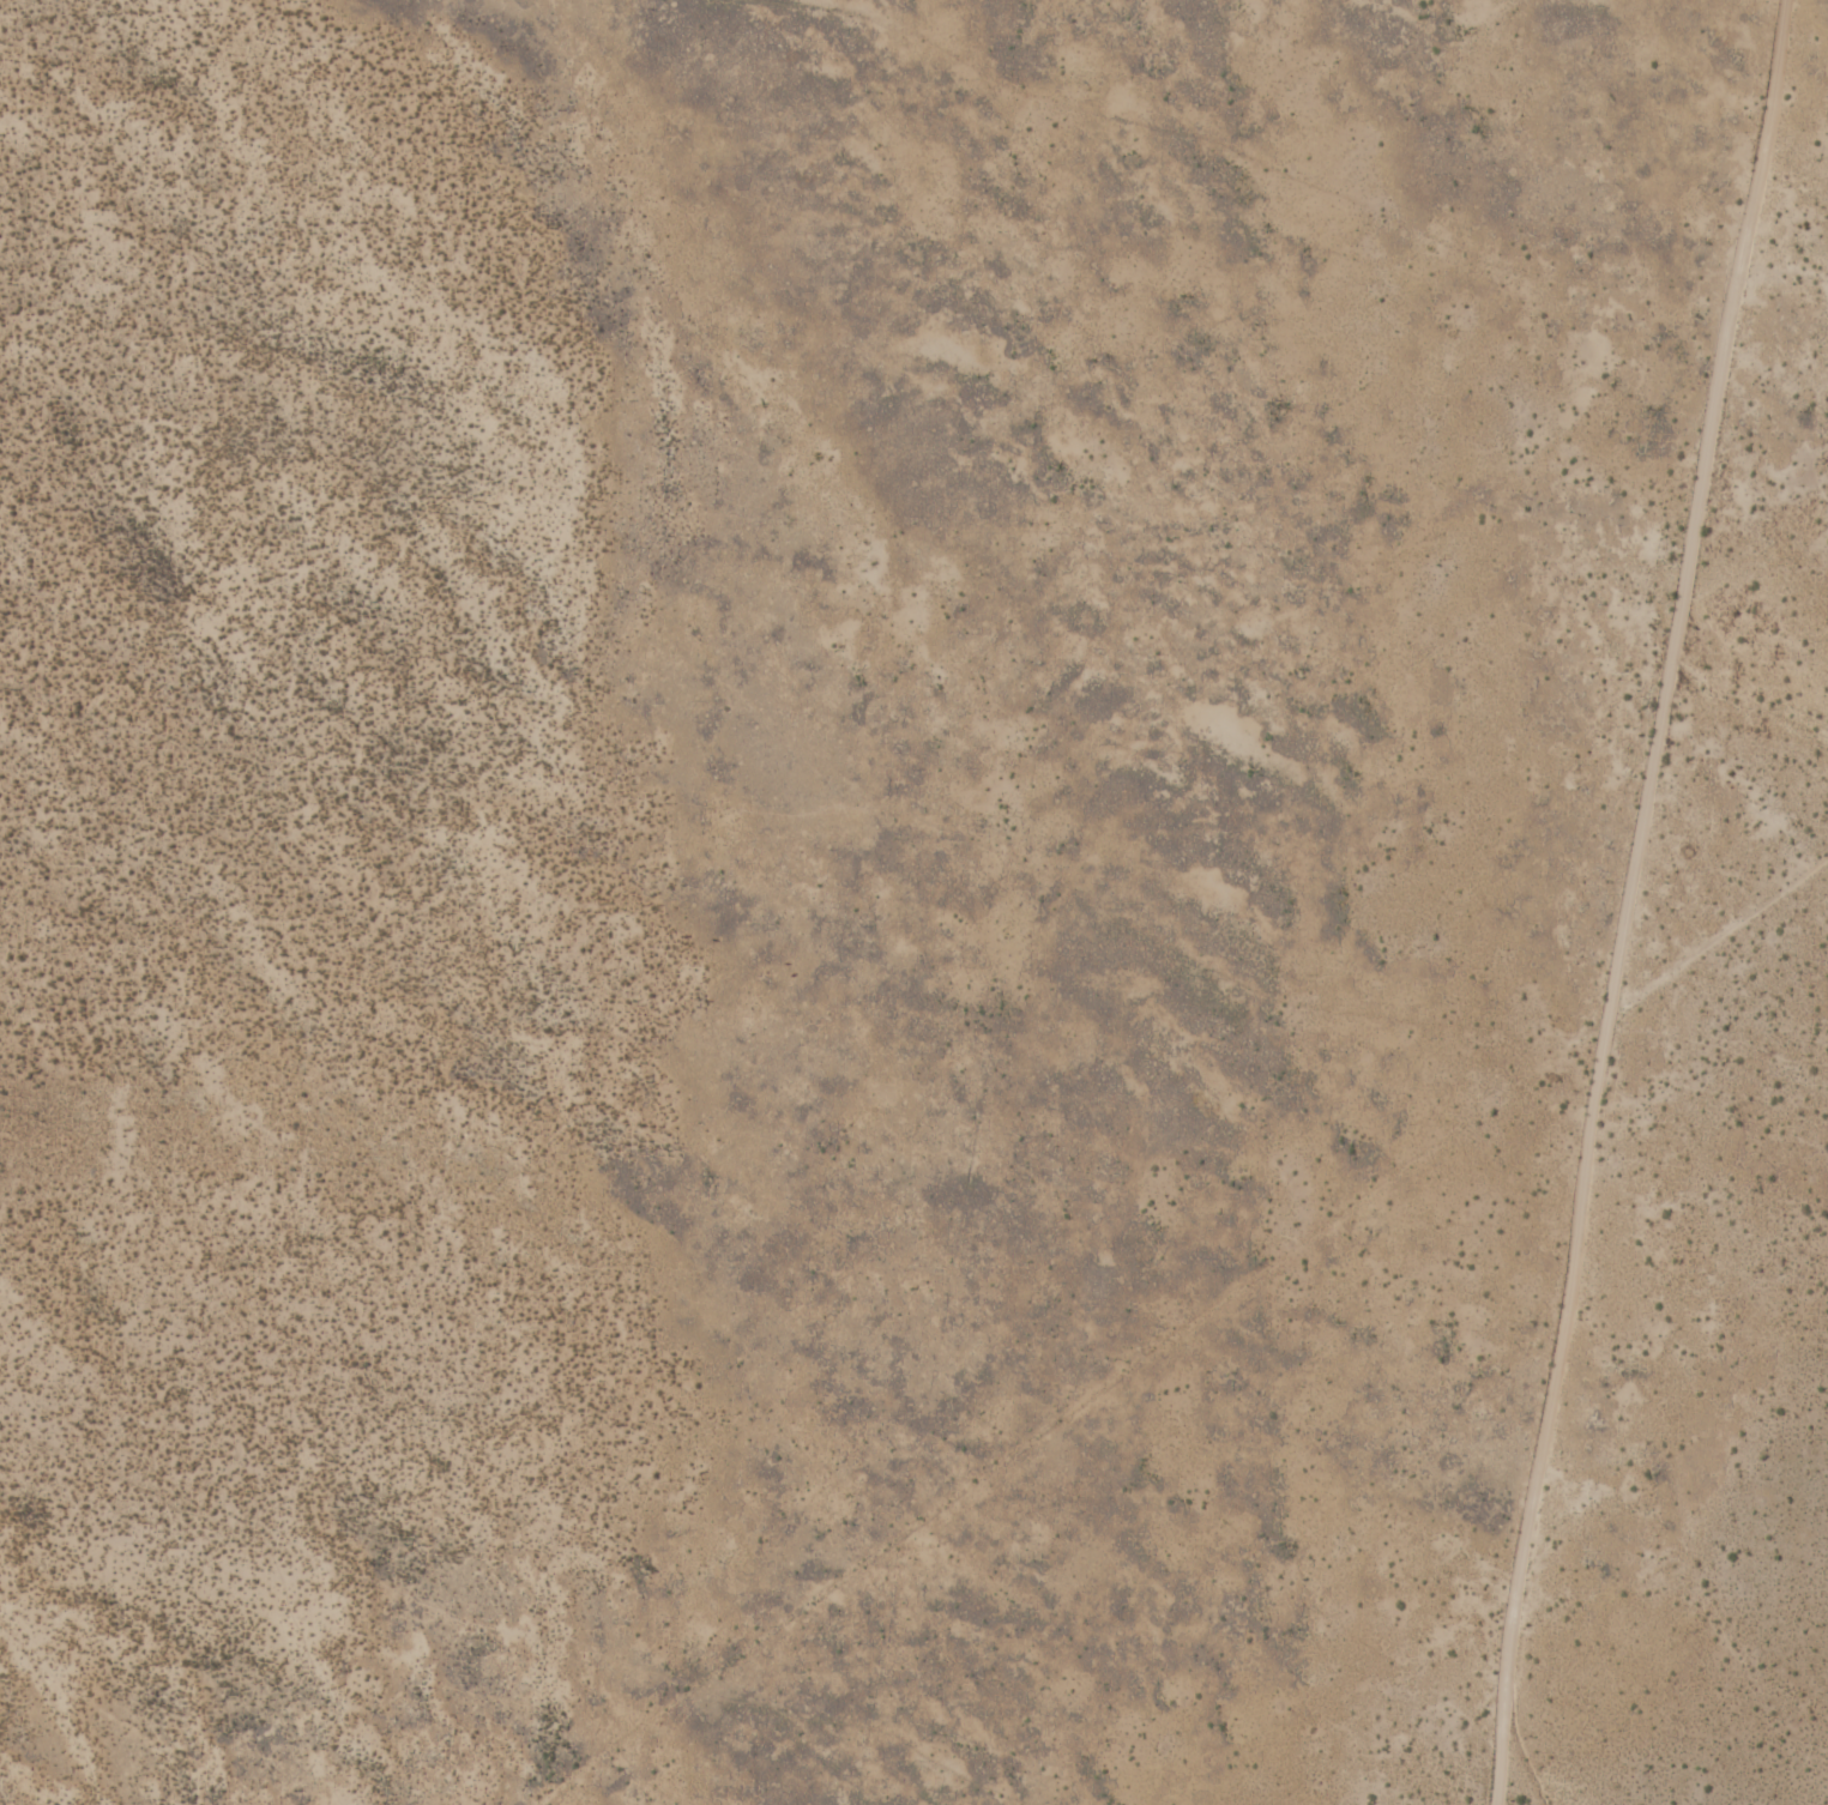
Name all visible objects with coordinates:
road: (1593, 905)

